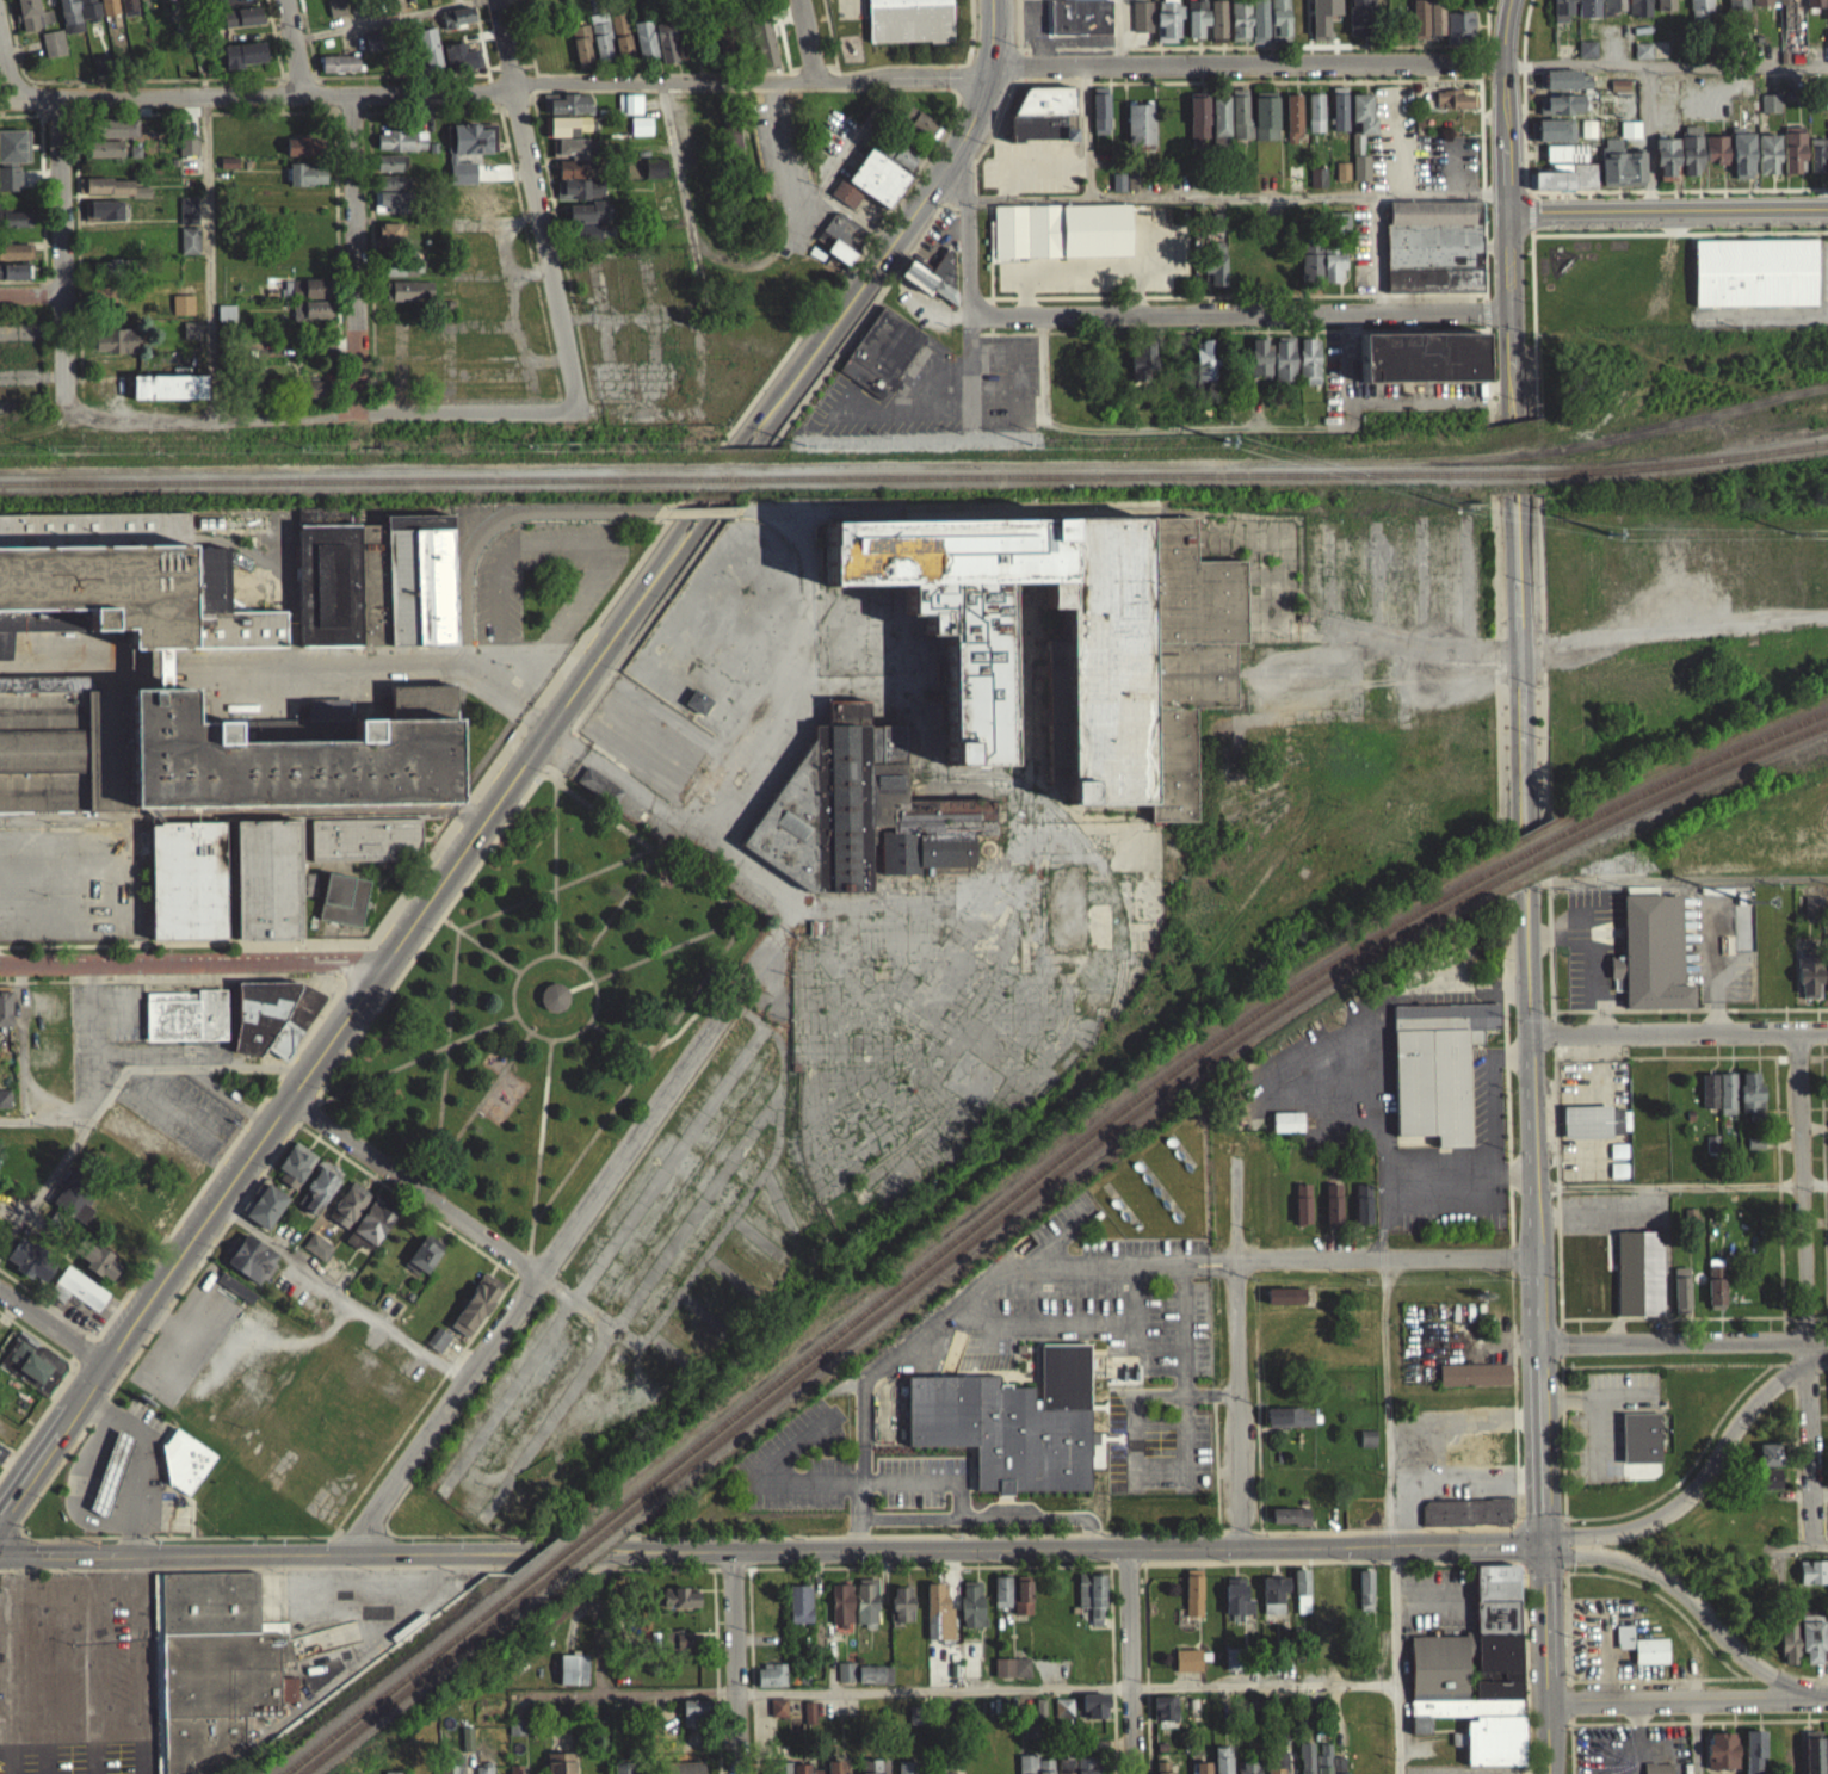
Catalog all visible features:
building: (447, 0)
building: (144, 1)
building: (1040, 1)
building: (1762, 7)
building: (1815, 7)
building: (1665, 8)
building: (1737, 8)
building: (1700, 10)
building: (106, 11)
building: (125, 11)
building: (1612, 11)
building: (335, 12)
building: (1587, 12)
building: (1638, 12)
building: (86, 13)
building: (1562, 16)
building: (1080, 17)
road: (383, 18)
building: (1322, 18)
building: (30, 19)
building: (909, 19)
building: (68, 20)
building: (1358, 21)
building: (1278, 24)
building: (241, 25)
building: (457, 25)
building: (1141, 25)
building: (1196, 26)
building: (1258, 26)
building: (1426, 26)
building: (1167, 27)
building: (1216, 27)
building: (1239, 29)
road: (1507, 29)
road: (992, 32)
building: (1458, 35)
road: (529, 36)
road: (809, 39)
building: (619, 44)
road: (295, 45)
building: (600, 45)
road: (1252, 45)
building: (643, 48)
road: (785, 48)
building: (371, 50)
building: (665, 50)
building: (53, 51)
building: (580, 51)
building: (761, 54)
building: (426, 56)
building: (685, 56)
building: (1587, 57)
building: (1643, 58)
road: (1247, 62)
road: (1666, 62)
building: (242, 63)
road: (896, 63)
road: (813, 64)
road: (1025, 64)
building: (459, 66)
road: (8, 67)
building: (338, 72)
road: (651, 72)
road: (904, 76)
road: (953, 76)
building: (1568, 78)
road: (1271, 80)
road: (537, 81)
road: (665, 81)
building: (1622, 84)
building: (1563, 88)
road: (588, 89)
road: (257, 93)
building: (1619, 93)
building: (1719, 93)
building: (1045, 99)
building: (1772, 101)
building: (1564, 103)
road: (1525, 105)
building: (1453, 107)
building: (1770, 111)
building: (628, 112)
building: (1562, 112)
building: (570, 113)
building: (1338, 116)
building: (1099, 118)
building: (922, 120)
building: (1314, 120)
building: (1360, 120)
building: (1239, 122)
building: (1218, 124)
building: (1039, 125)
building: (1264, 125)
building: (1291, 126)
building: (1591, 126)
building: (1631, 126)
building: (1557, 129)
building: (919, 130)
road: (1087, 130)
building: (1197, 130)
building: (1138, 132)
building: (568, 134)
building: (640, 134)
road: (1507, 134)
building: (115, 136)
road: (990, 136)
building: (1630, 137)
building: (729, 141)
building: (468, 146)
building: (1717, 147)
building: (1693, 148)
building: (1795, 148)
building: (401, 149)
building: (1568, 152)
building: (1743, 152)
building: (1770, 152)
building: (1818, 153)
building: (13, 154)
building: (301, 154)
building: (187, 155)
building: (906, 155)
building: (575, 156)
building: (1668, 156)
building: (104, 157)
building: (391, 161)
building: (1565, 161)
building: (898, 162)
building: (1622, 162)
road: (1023, 165)
road: (1082, 165)
parking lot: (1032, 166)
building: (1361, 166)
building: (1342, 168)
building: (388, 171)
building: (1295, 172)
building: (1587, 174)
building: (1317, 175)
building: (570, 177)
building: (654, 178)
building: (872, 178)
building: (1552, 178)
building: (1135, 179)
building: (1341, 179)
building: (1119, 180)
building: (305, 183)
road: (961, 183)
building: (1316, 186)
building: (16, 187)
building: (1117, 190)
building: (1132, 190)
road: (1680, 190)
building: (388, 191)
building: (109, 196)
building: (580, 197)
road: (1237, 197)
road: (537, 206)
building: (389, 210)
road: (1668, 211)
building: (453, 212)
building: (488, 214)
building: (101, 218)
building: (187, 218)
building: (14, 227)
building: (1340, 228)
building: (588, 229)
building: (1060, 229)
road: (1669, 230)
building: (842, 235)
building: (389, 242)
road: (990, 247)
building: (189, 249)
road: (885, 249)
road: (64, 251)
road: (353, 253)
road: (1376, 254)
building: (1433, 255)
road: (206, 256)
building: (16, 260)
road: (1508, 261)
building: (1755, 270)
building: (1213, 271)
building: (1320, 273)
building: (932, 276)
building: (400, 277)
building: (12, 280)
road: (970, 288)
road: (1536, 288)
road: (1336, 293)
building: (307, 296)
road: (21, 299)
road: (55, 299)
building: (408, 299)
building: (181, 313)
road: (1239, 314)
building: (311, 319)
building: (226, 322)
building: (115, 348)
building: (883, 351)
road: (1509, 356)
building: (1260, 365)
building: (1421, 366)
building: (1142, 367)
building: (1205, 369)
building: (1284, 369)
building: (1309, 370)
road: (935, 373)
road: (1015, 376)
parking lot: (1009, 381)
building: (167, 395)
building: (316, 396)
parking lot: (897, 400)
road: (1044, 403)
road: (888, 412)
road: (468, 413)
road: (211, 419)
road: (1506, 459)
road: (1520, 459)
railway: (1693, 461)
road: (759, 464)
railway: (1521, 471)
railway: (1128, 472)
railway: (730, 477)
railway: (344, 480)
road: (708, 482)
road: (721, 492)
building: (243, 532)
building: (420, 576)
building: (329, 583)
building: (373, 583)
building: (106, 585)
building: (227, 606)
building: (1070, 630)
building: (160, 665)
road: (1519, 667)
road: (562, 668)
building: (698, 700)
building: (696, 710)
traffic signals: (544, 734)
building: (109, 747)
building: (43, 748)
road: (560, 748)
building: (292, 754)
railway: (1692, 769)
road: (552, 773)
railway: (1693, 781)
building: (598, 795)
building: (860, 810)
building: (156, 812)
road: (672, 818)
building: (365, 837)
railway: (1531, 848)
road: (661, 849)
road: (1532, 857)
road: (620, 858)
road: (1518, 858)
railway: (1532, 859)
road: (555, 865)
parking lot: (43, 876)
building: (267, 877)
building: (187, 878)
building: (344, 897)
building: (1812, 913)
road: (428, 931)
road: (480, 942)
road: (665, 953)
road: (356, 960)
building: (1650, 963)
road: (192, 964)
building: (1809, 985)
road: (704, 990)
building: (555, 994)
building: (551, 1006)
park: (541, 1007)
building: (185, 1014)
building: (273, 1014)
building: (5, 1016)
road: (588, 1018)
road: (335, 1032)
road: (1679, 1034)
road: (20, 1041)
road: (416, 1055)
parking lot: (141, 1069)
building: (1434, 1080)
building: (1707, 1100)
building: (1748, 1100)
building: (1725, 1102)
building: (4, 1107)
road: (44, 1119)
building: (1594, 1130)
building: (1286, 1131)
road: (433, 1141)
building: (1754, 1151)
railway: (1042, 1172)
building: (294, 1174)
railway: (1051, 1177)
road: (44, 1183)
road: (1681, 1183)
road: (413, 1187)
road: (555, 1188)
building: (317, 1197)
building: (74, 1206)
building: (1302, 1212)
building: (1361, 1212)
building: (347, 1213)
building: (265, 1214)
building: (1333, 1214)
road: (1537, 1222)
road: (575, 1223)
building: (370, 1234)
road: (530, 1250)
building: (317, 1254)
road: (1389, 1254)
building: (422, 1262)
building: (29, 1268)
building: (251, 1268)
building: (98, 1269)
building: (1638, 1282)
road: (1805, 1285)
building: (235, 1296)
building: (1713, 1296)
building: (76, 1297)
building: (1680, 1299)
building: (1284, 1304)
road: (961, 1305)
building: (475, 1313)
road: (51, 1325)
road: (1673, 1340)
road: (1817, 1340)
road: (1241, 1346)
building: (437, 1348)
building: (1474, 1383)
road: (1180, 1384)
road: (1111, 1404)
building: (1289, 1426)
building: (1009, 1432)
building: (1639, 1446)
building: (1366, 1447)
road: (140, 1457)
building: (2, 1460)
road: (1717, 1460)
building: (1767, 1463)
building: (184, 1472)
building: (110, 1482)
road: (1450, 1484)
building: (1766, 1488)
road: (840, 1491)
road: (1821, 1494)
building: (1465, 1521)
building: (1289, 1525)
road: (974, 1528)
road: (1091, 1537)
road: (574, 1541)
traffic signals: (1542, 1541)
road: (1564, 1541)
railway: (569, 1545)
railway: (588, 1545)
road: (259, 1546)
road: (1085, 1546)
road: (1816, 1549)
road: (573, 1553)
building: (1827, 1576)
building: (1810, 1581)
building: (1364, 1599)
building: (1001, 1600)
building: (1301, 1600)
building: (211, 1601)
building: (1192, 1601)
building: (1091, 1603)
building: (1272, 1603)
building: (1021, 1606)
building: (1235, 1606)
building: (678, 1607)
building: (798, 1612)
building: (840, 1612)
building: (900, 1612)
building: (971, 1613)
road: (1710, 1613)
building: (937, 1622)
road: (11, 1624)
building: (1810, 1643)
building: (1623, 1645)
building: (685, 1650)
building: (1497, 1651)
building: (1789, 1654)
road: (1546, 1657)
road: (1126, 1659)
building: (1649, 1659)
road: (142, 1661)
road: (733, 1662)
building: (1230, 1668)
building: (1186, 1669)
building: (222, 1673)
railway: (408, 1674)
railway: (427, 1674)
building: (1011, 1676)
building: (572, 1679)
building: (845, 1680)
building: (873, 1683)
building: (770, 1685)
road: (45, 1686)
road: (94, 1686)
building: (1445, 1687)
road: (635, 1692)
road: (1301, 1693)
road: (931, 1698)
parking lot: (70, 1700)
road: (1687, 1701)
building: (1093, 1714)
building: (777, 1716)
building: (1062, 1717)
building: (1163, 1717)
building: (693, 1722)
building: (808, 1722)
road: (72, 1733)
building: (1418, 1733)
building: (515, 1736)
road: (1694, 1737)
road: (659, 1738)
road: (1573, 1738)
building: (205, 1743)
building: (467, 1748)
building: (1492, 1750)
building: (1753, 1756)
building: (1721, 1757)
building: (1815, 1760)
building: (1304, 1762)
building: (1322, 1763)
building: (1219, 1764)
building: (558, 1767)
building: (1279, 1767)
building: (455, 1769)
building: (1032, 1769)
building: (1082, 1769)
building: (873, 1770)
building: (1064, 1770)
building: (1336, 1770)
building: (683, 1772)
building: (836, 1772)
building: (907, 1772)
building: (1162, 1772)
building: (1246, 1772)
building: (520, 1773)
building: (623, 1773)
building: (791, 1773)
building: (941, 1773)
building: (1199, 1773)
building: (1656, 1773)

